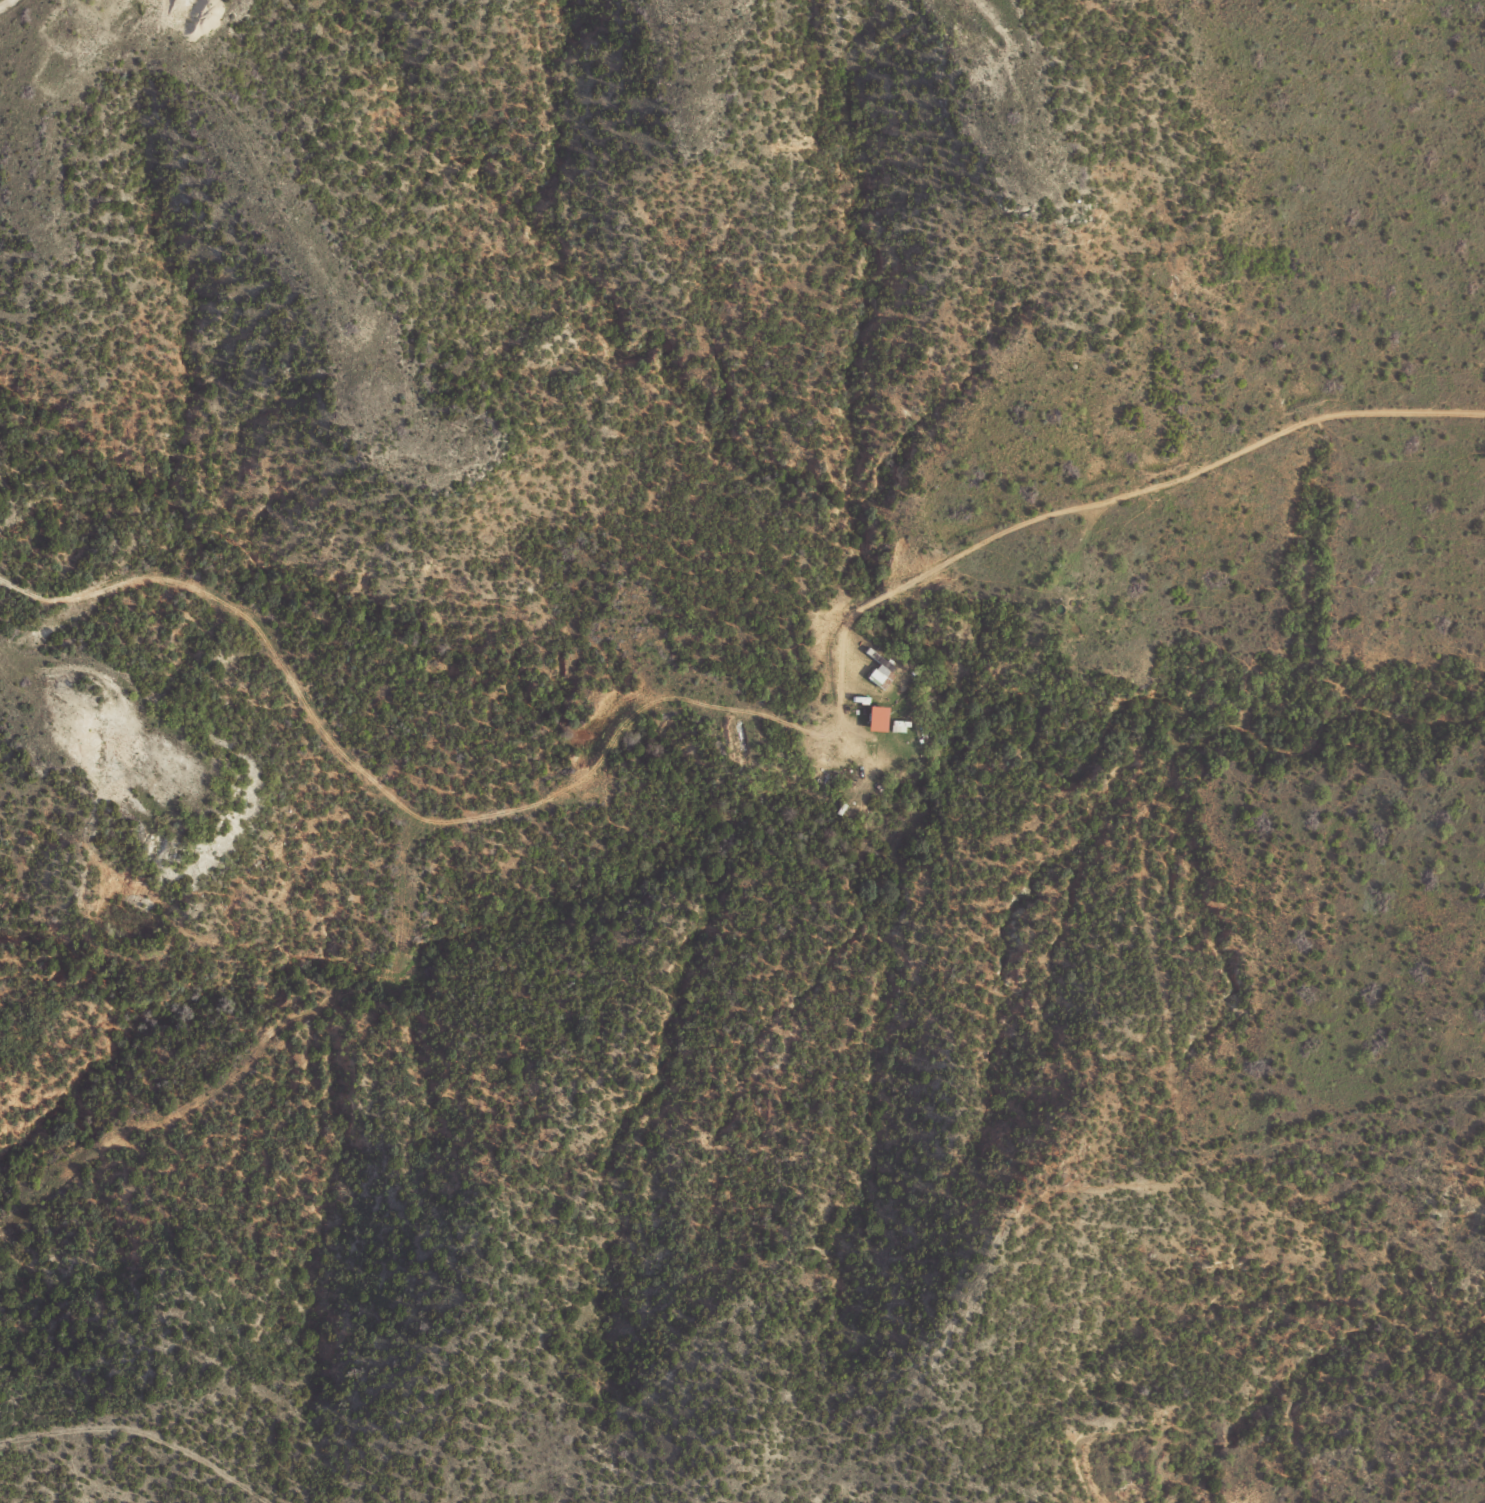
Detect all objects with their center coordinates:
road: (1274, 436)
building: (887, 720)
road: (562, 790)

